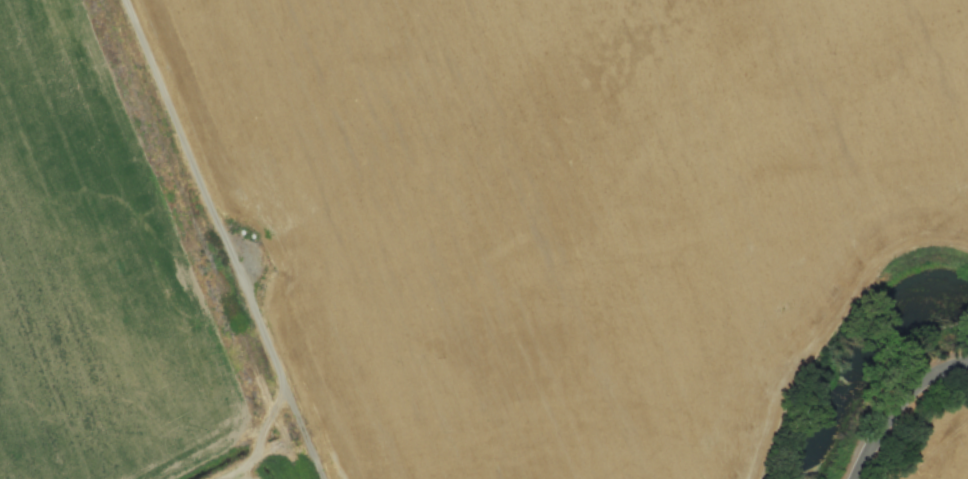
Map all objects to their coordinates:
road: (204, 193)
crop: (566, 210)
crop: (91, 272)
road: (895, 403)
road: (302, 433)
road: (258, 440)
crop: (944, 450)

